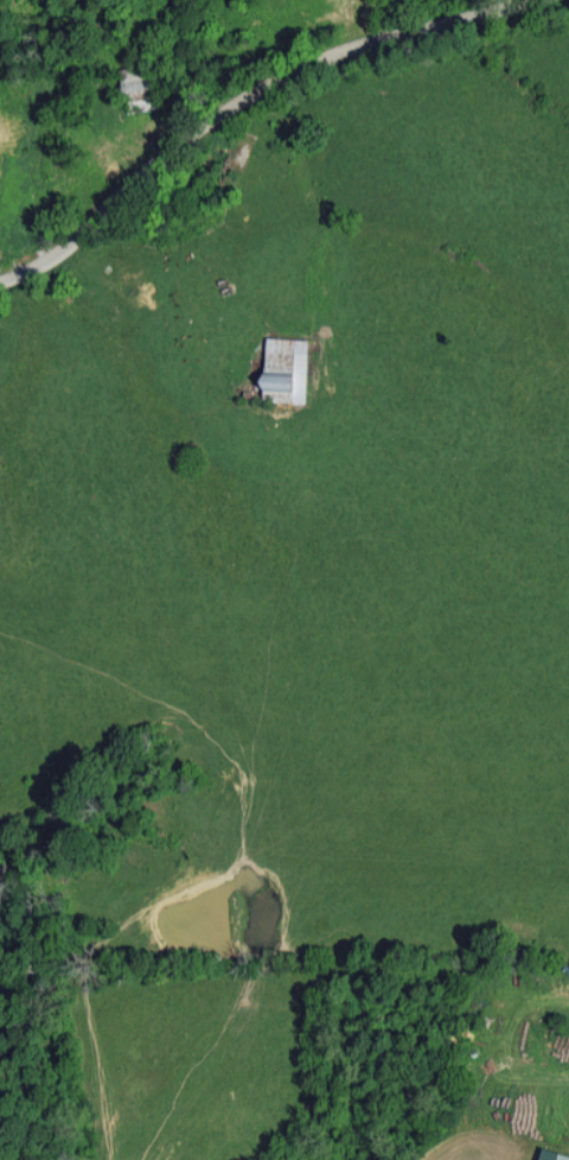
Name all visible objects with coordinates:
road: (219, 107)

